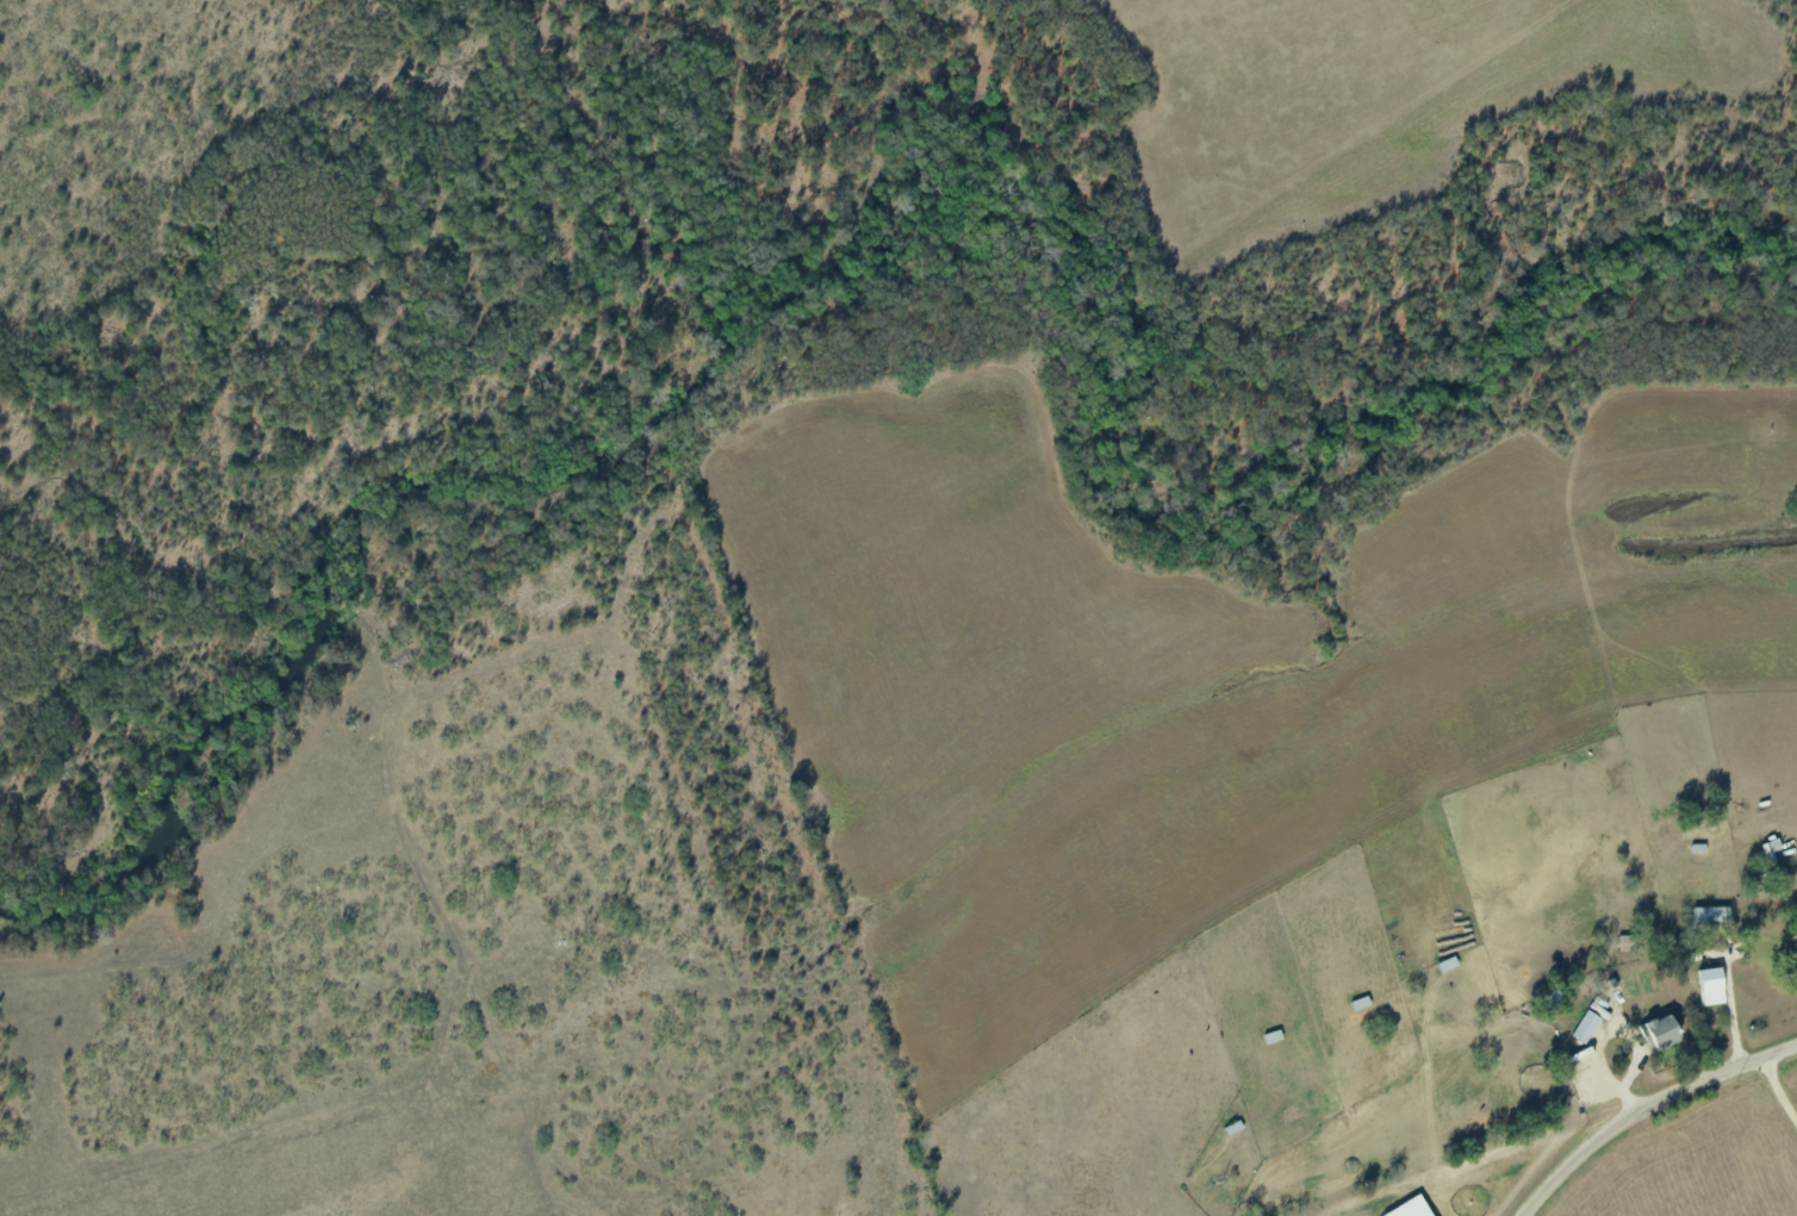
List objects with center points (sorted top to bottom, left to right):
building: (1711, 913)
road: (1734, 1014)
building: (1586, 1027)
building: (1660, 1031)
road: (1778, 1089)
road: (1644, 1108)
building: (1412, 1208)

